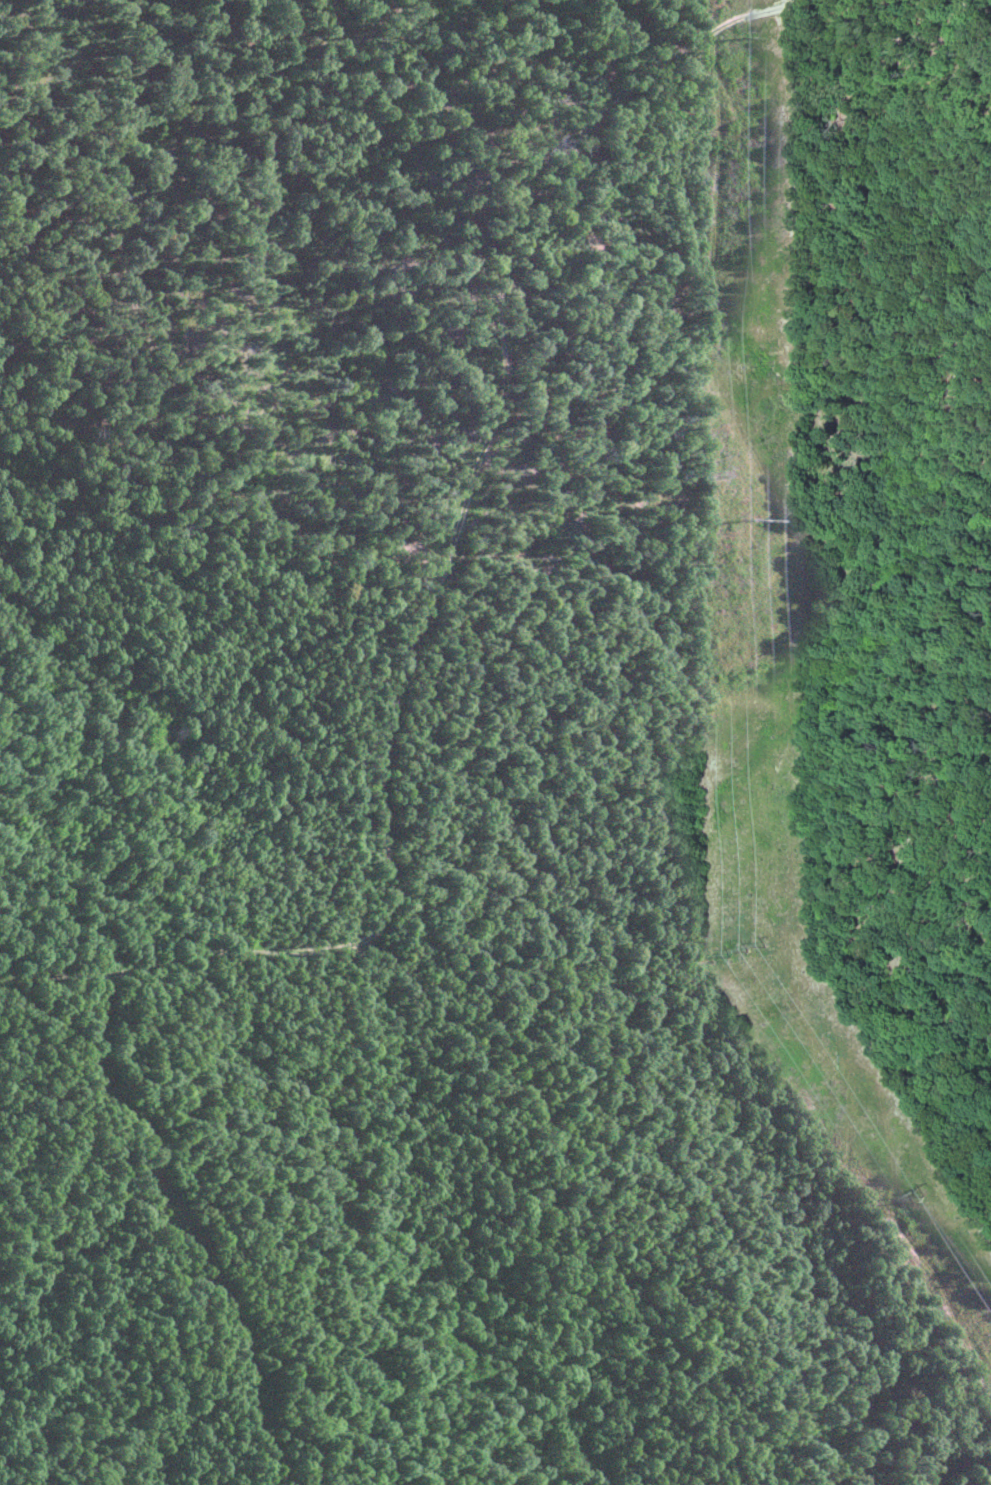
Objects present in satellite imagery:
road: (985, 1)
power tower: (750, 39)
road: (687, 50)
power tower: (751, 522)
power tower: (750, 949)
power tower: (918, 1200)

